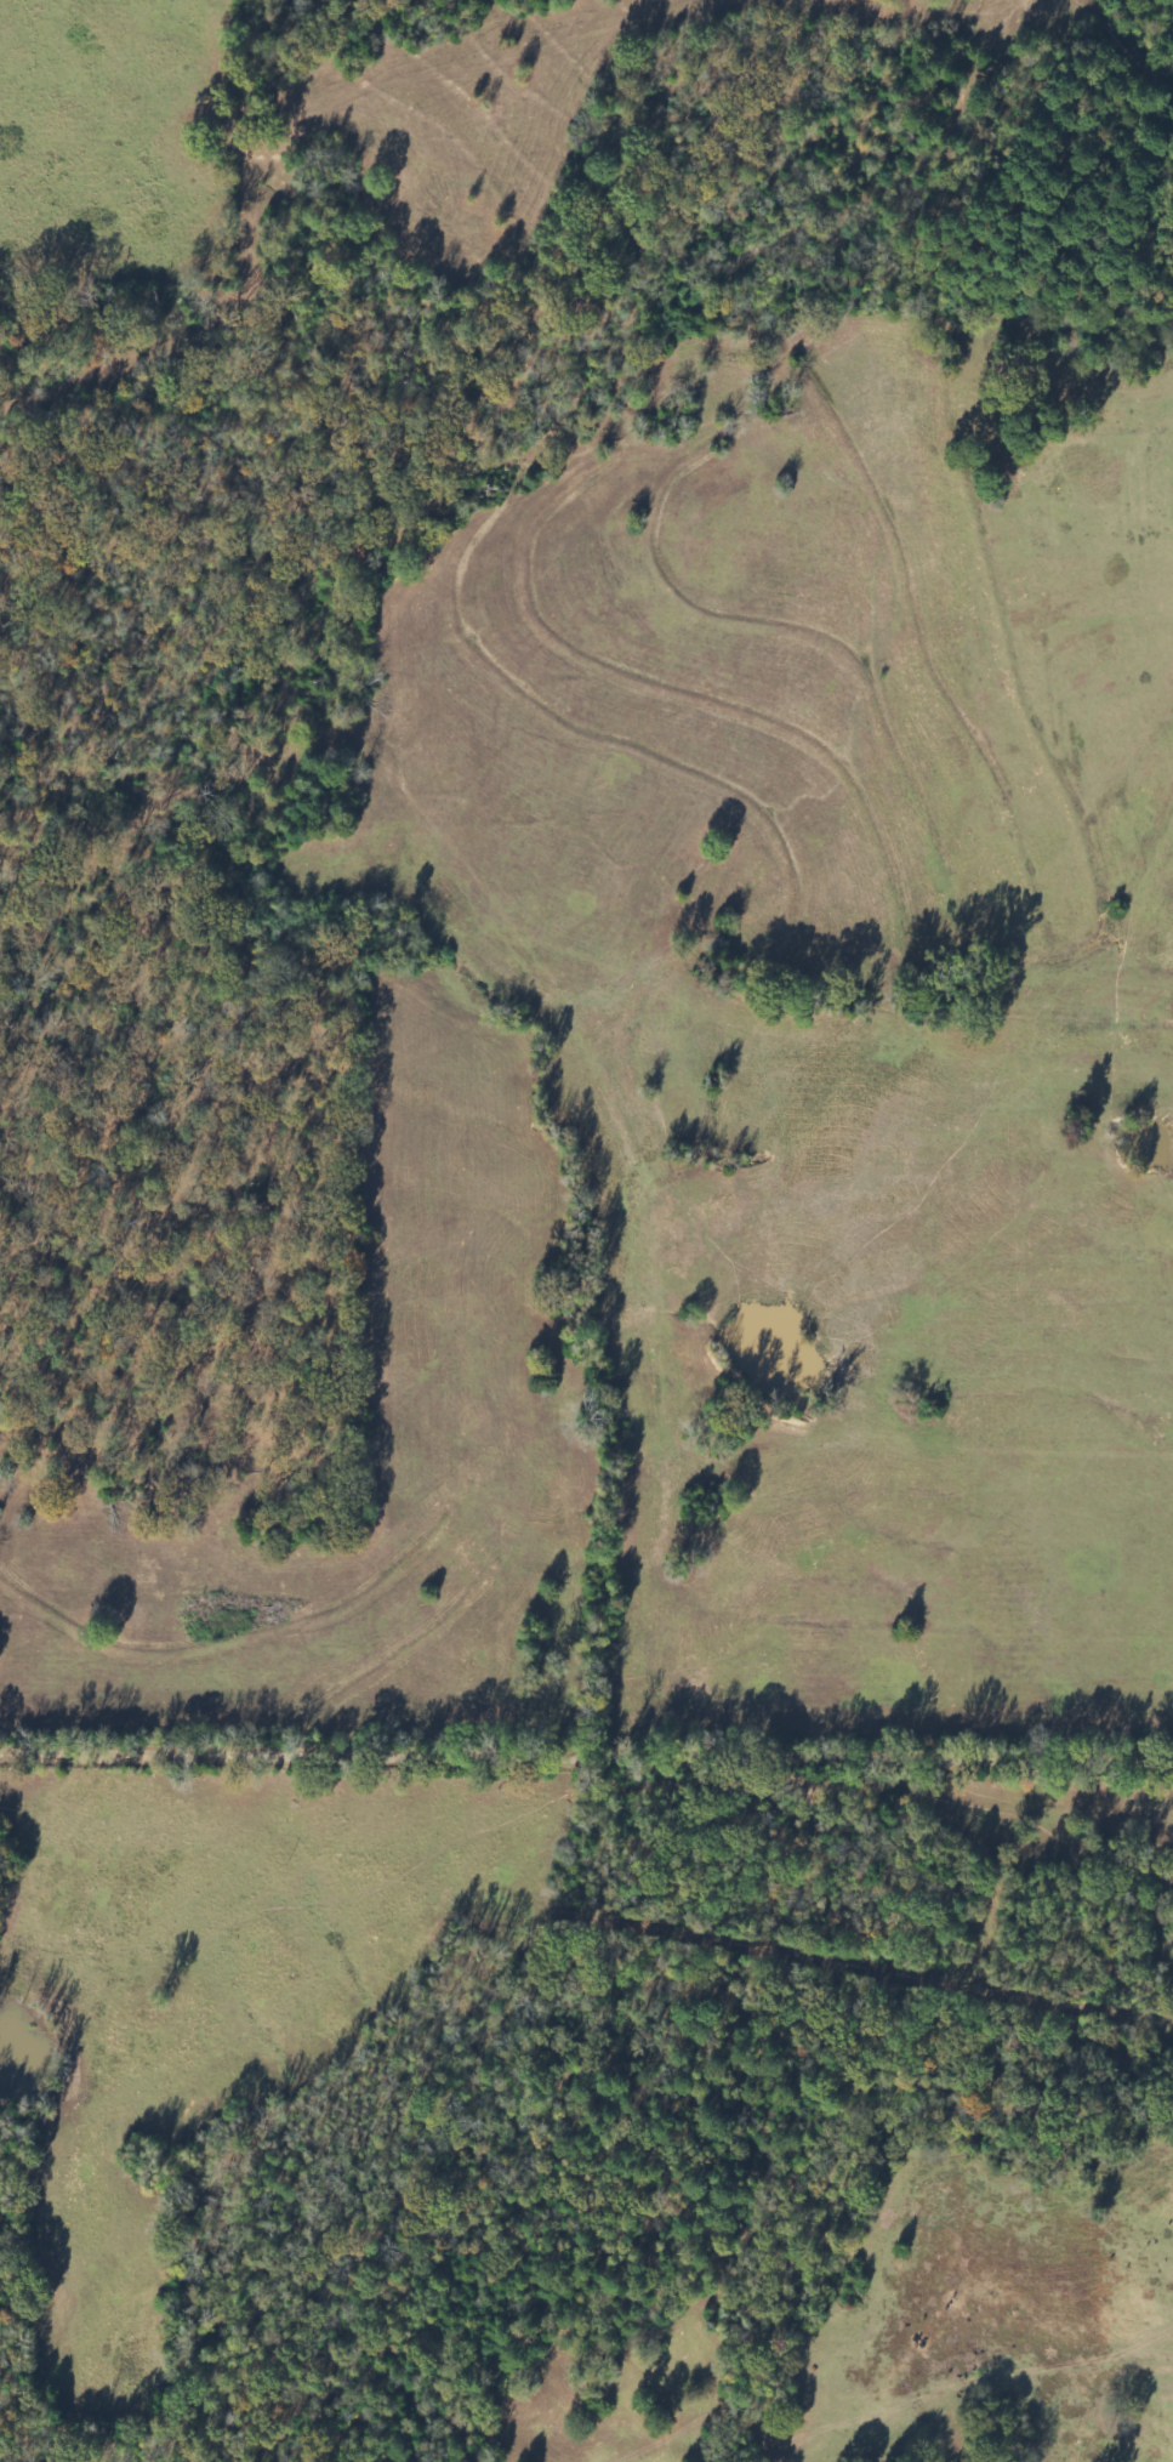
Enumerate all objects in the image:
road: (103, 1757)
road: (689, 1761)

